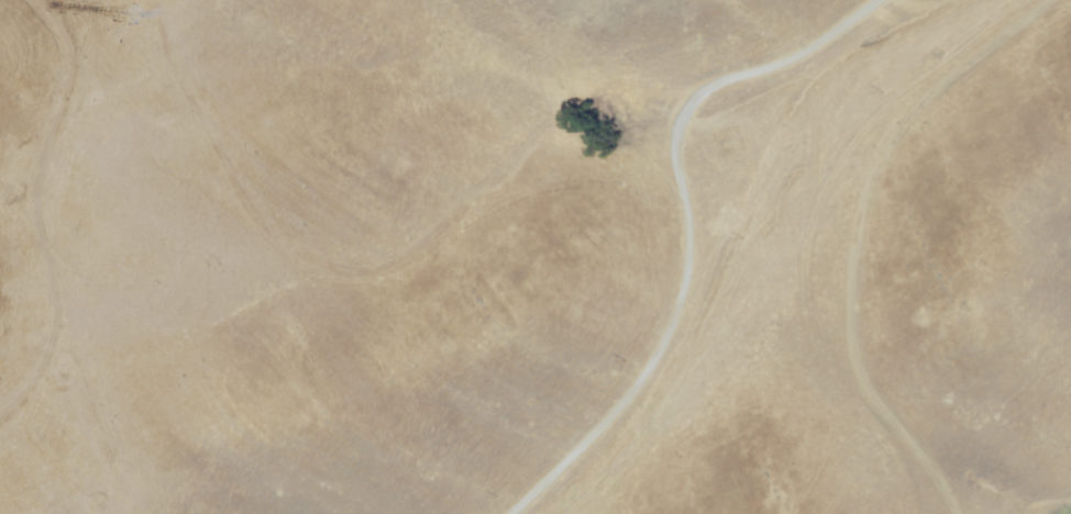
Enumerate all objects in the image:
power tower: (128, 15)
road: (689, 233)

